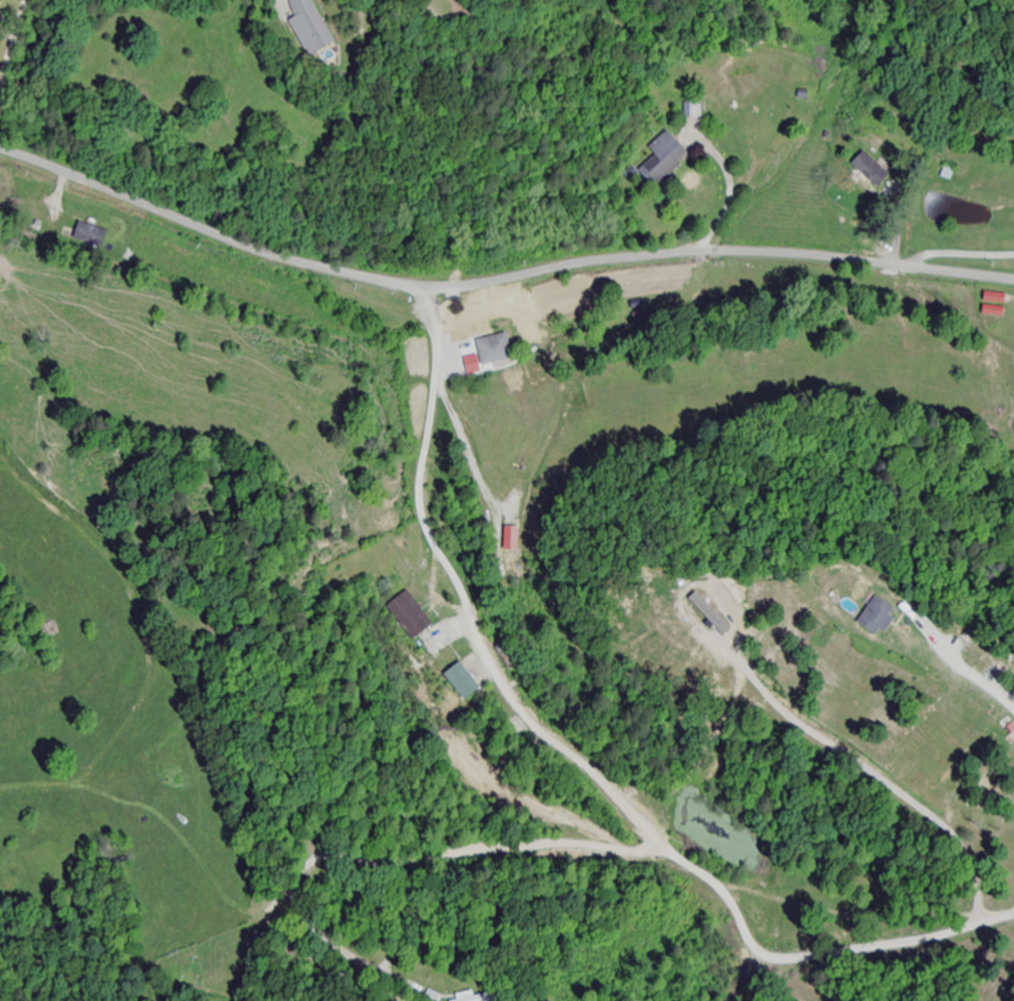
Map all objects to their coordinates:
building: (311, 26)
building: (694, 110)
building: (665, 159)
building: (872, 171)
building: (1012, 219)
building: (92, 236)
road: (499, 281)
building: (495, 350)
building: (416, 618)
building: (443, 641)
building: (463, 682)
building: (1010, 726)
road: (576, 762)
road: (464, 853)

